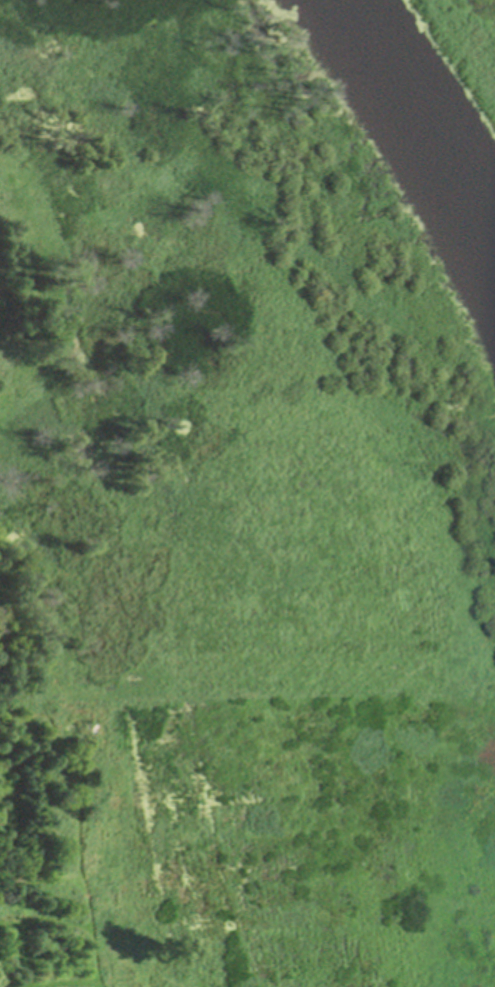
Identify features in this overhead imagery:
river: (423, 118)

